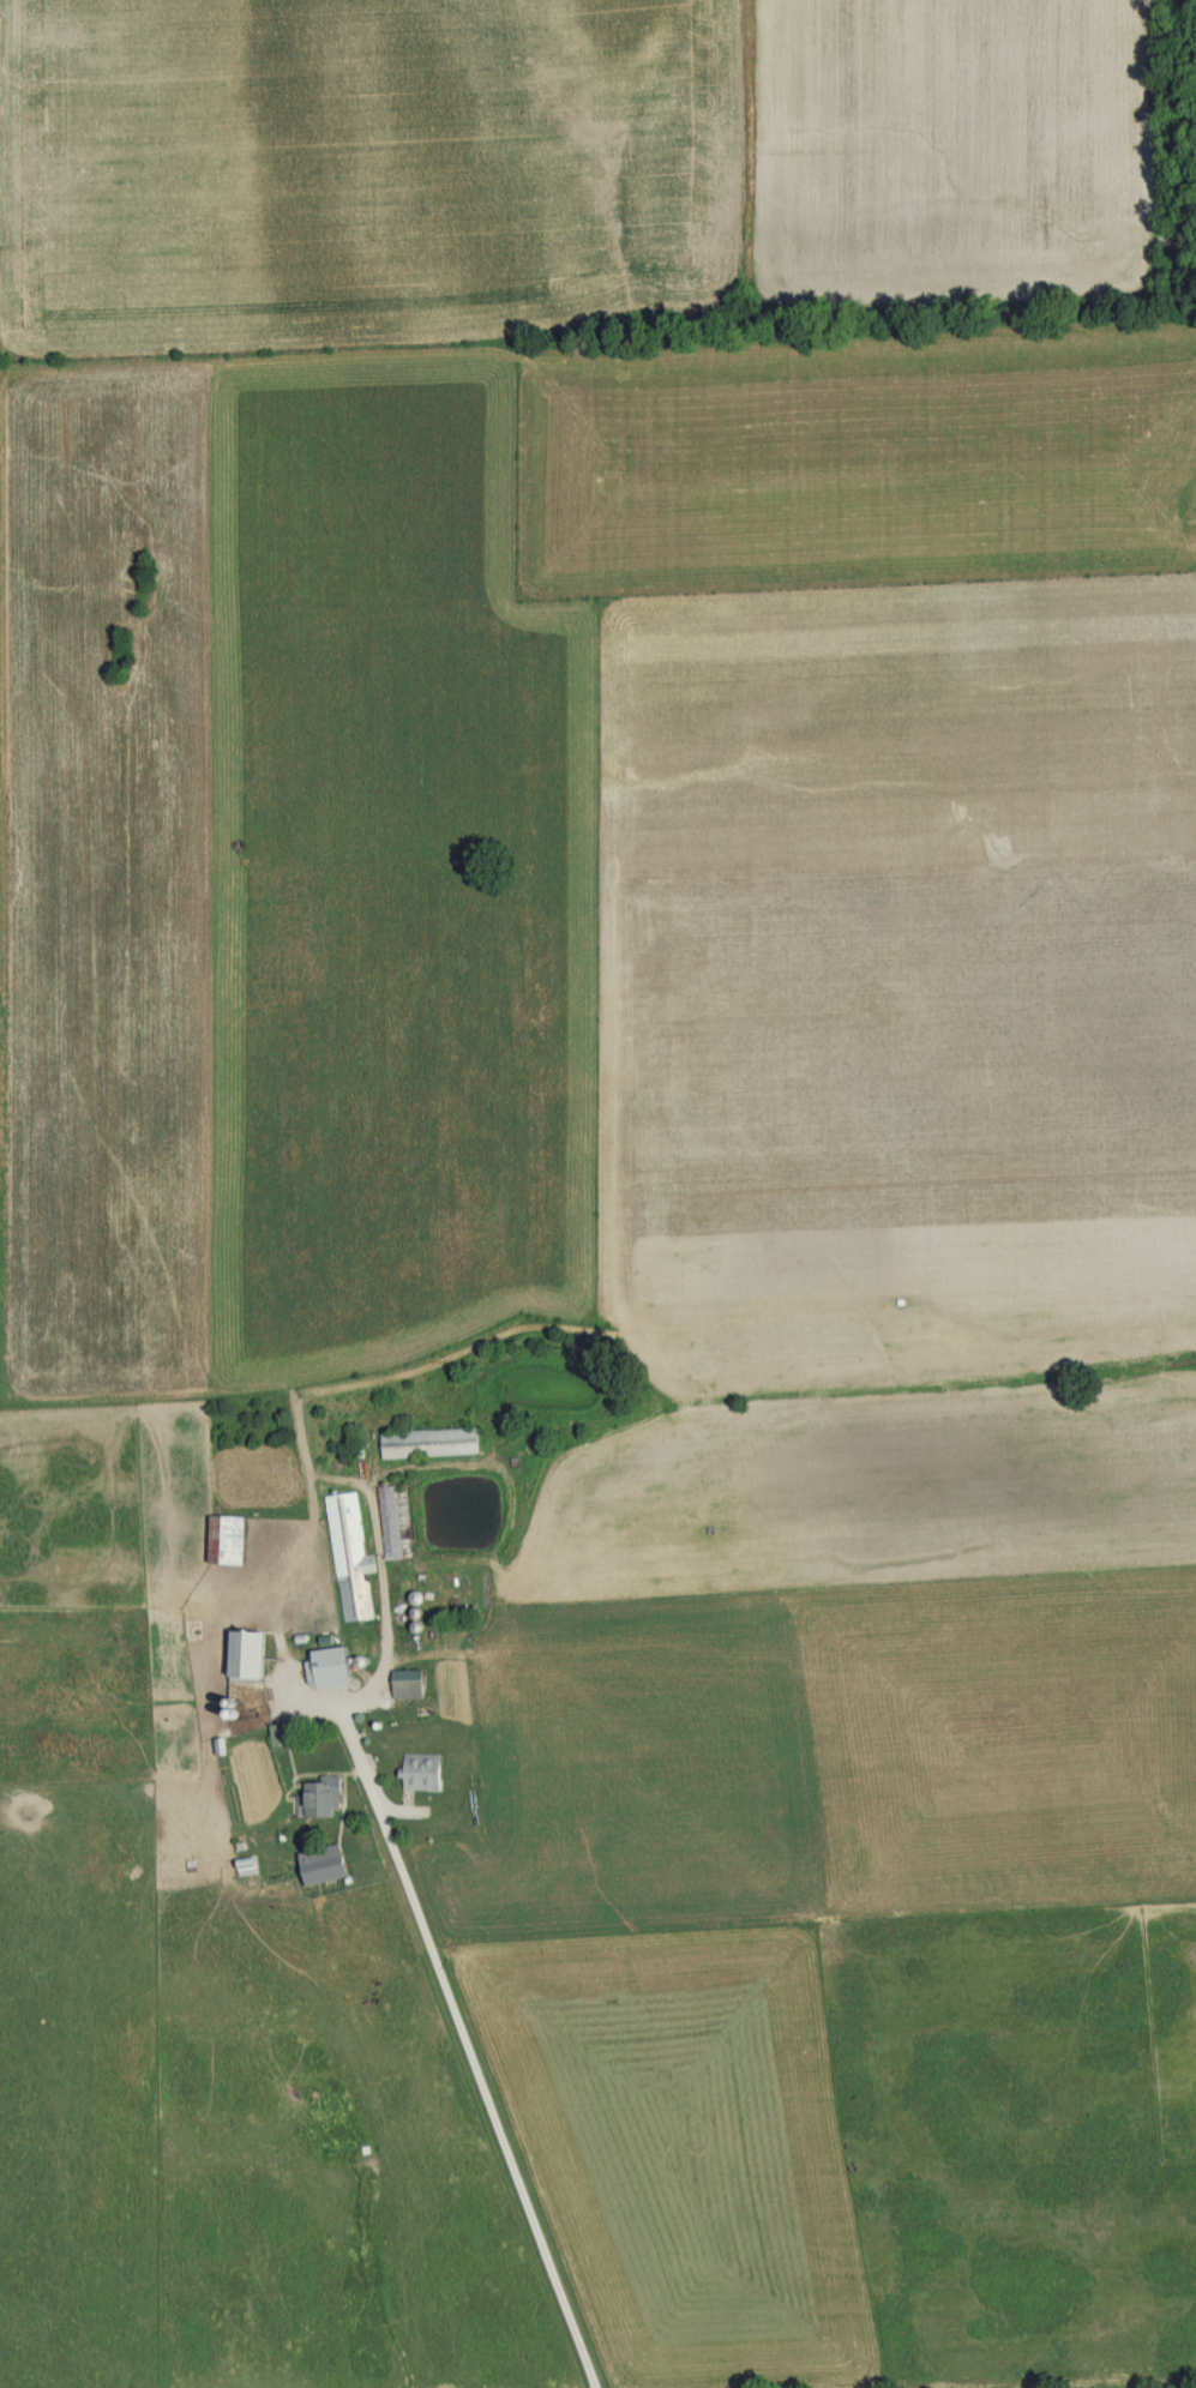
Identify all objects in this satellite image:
building: (432, 1442)
building: (391, 1520)
building: (228, 1539)
building: (350, 1556)
building: (439, 1638)
building: (252, 1655)
building: (331, 1667)
building: (410, 1683)
building: (423, 1770)
building: (325, 1795)
building: (250, 1865)
road: (473, 2080)

